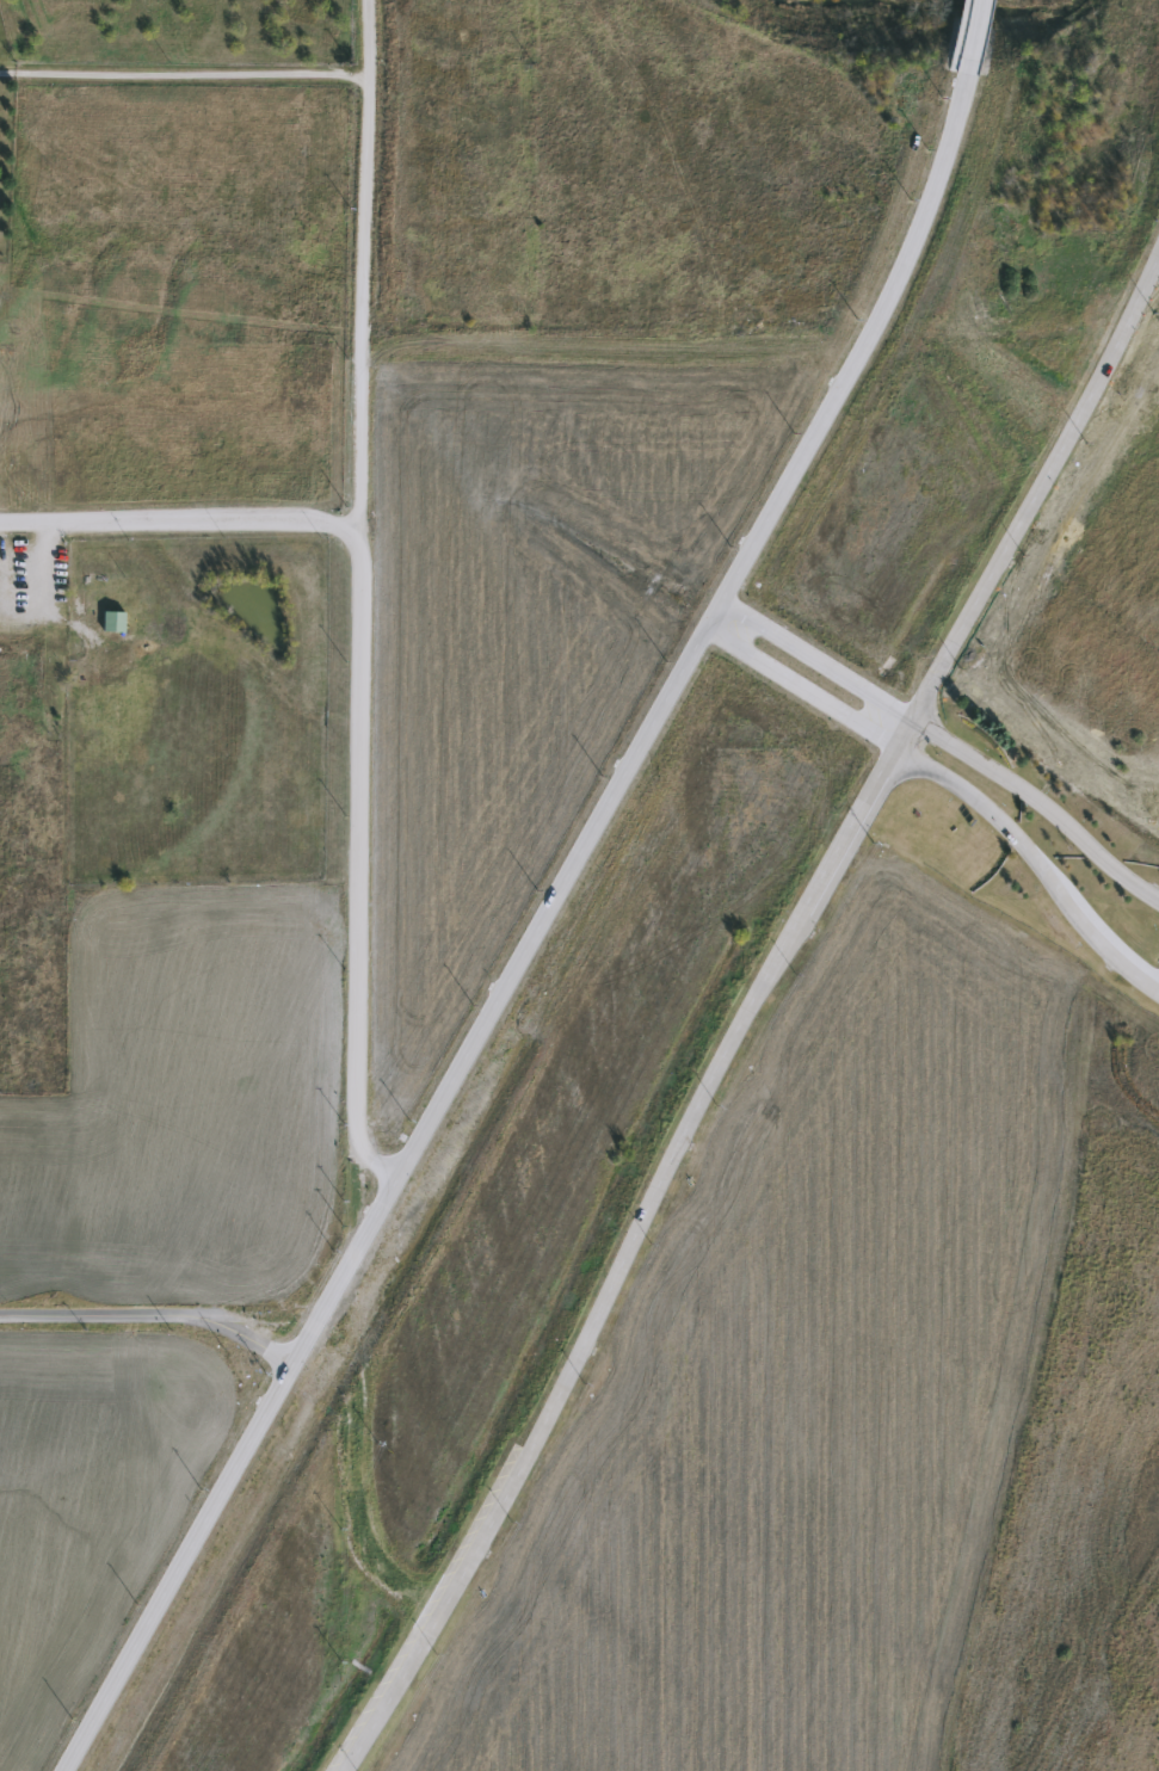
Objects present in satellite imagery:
road: (970, 33)
road: (183, 76)
road: (178, 517)
road: (357, 597)
building: (117, 622)
road: (948, 739)
road: (954, 778)
road: (536, 927)
road: (748, 1013)
road: (152, 1315)
crop: (82, 1480)

